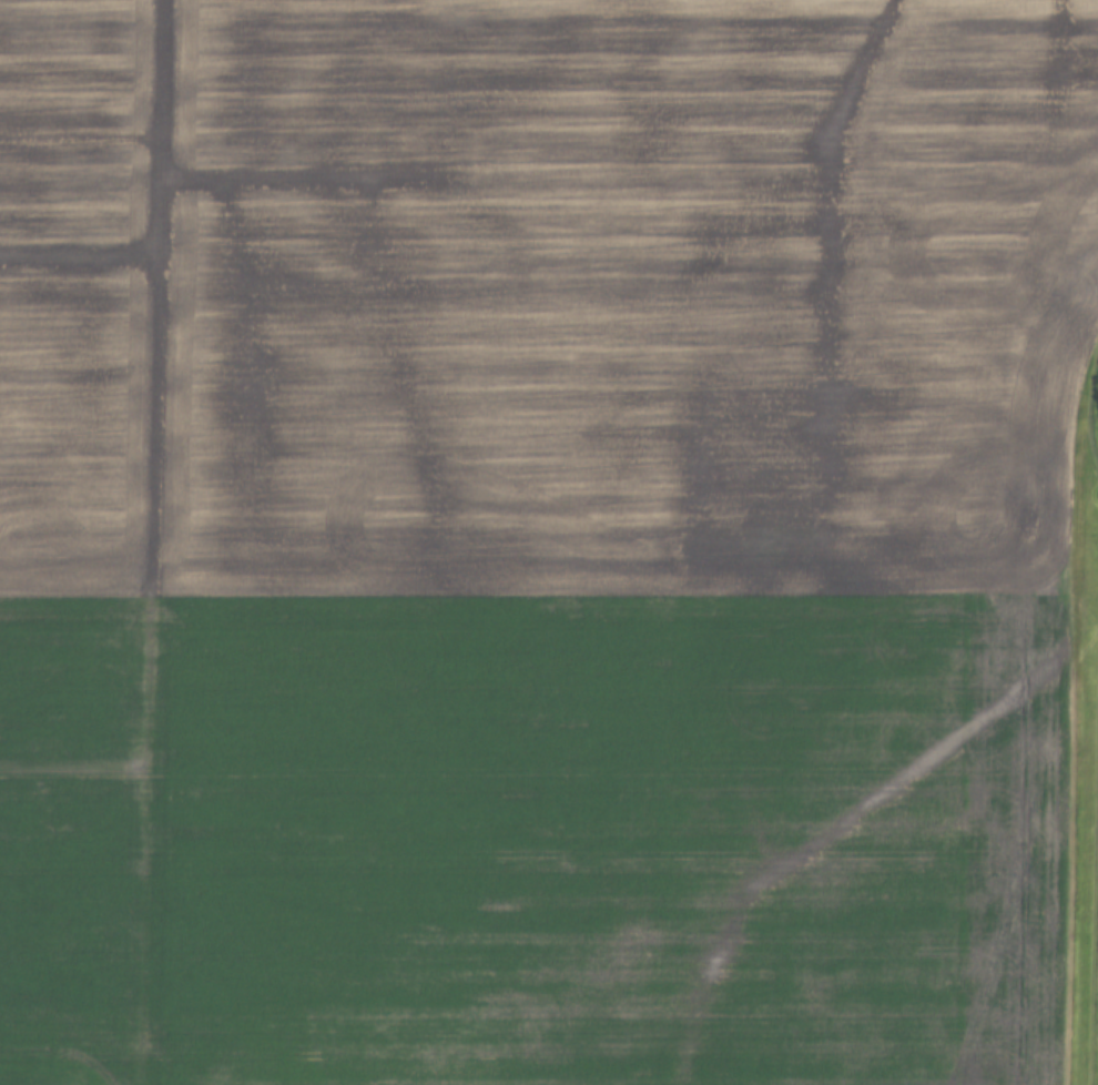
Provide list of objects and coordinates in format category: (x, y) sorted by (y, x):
crop: (542, 539)

